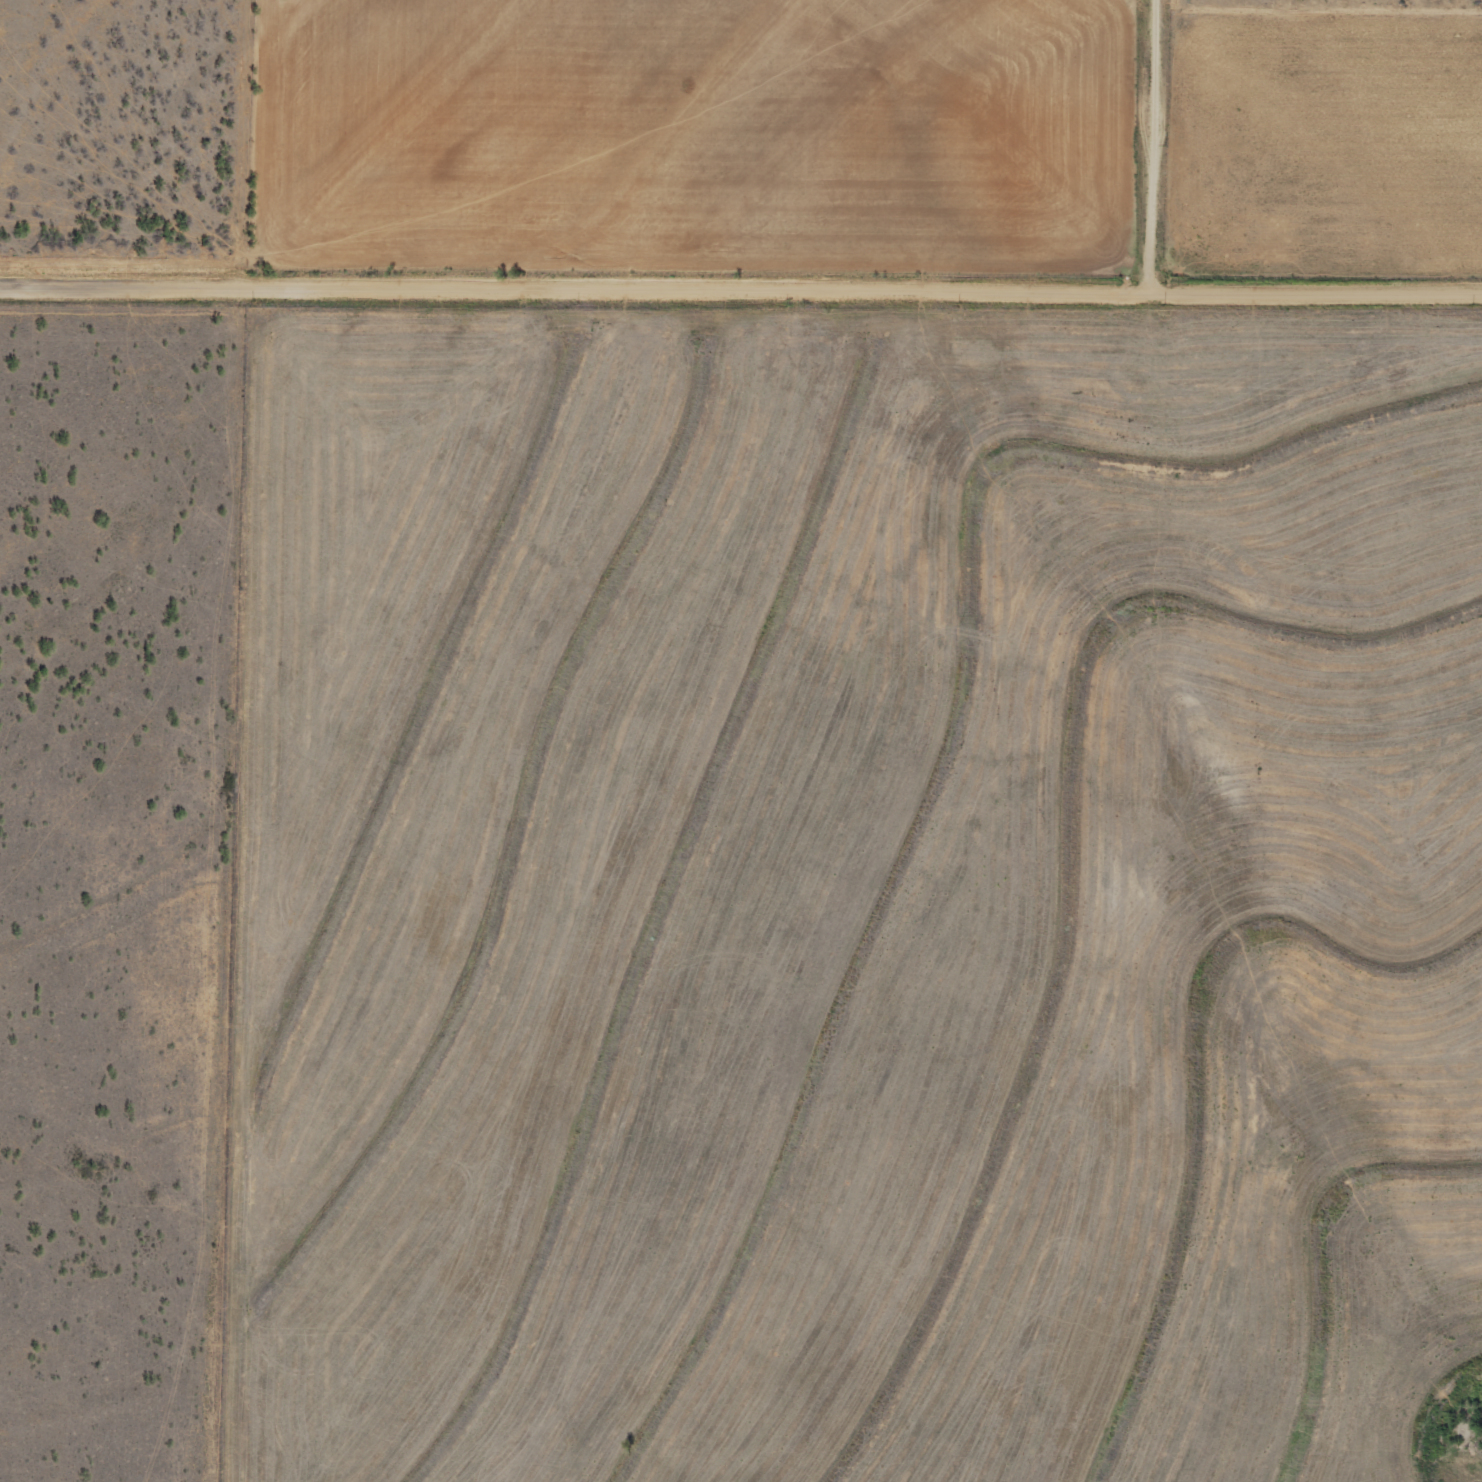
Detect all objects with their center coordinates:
road: (1161, 146)
road: (741, 286)
road: (1132, 899)

